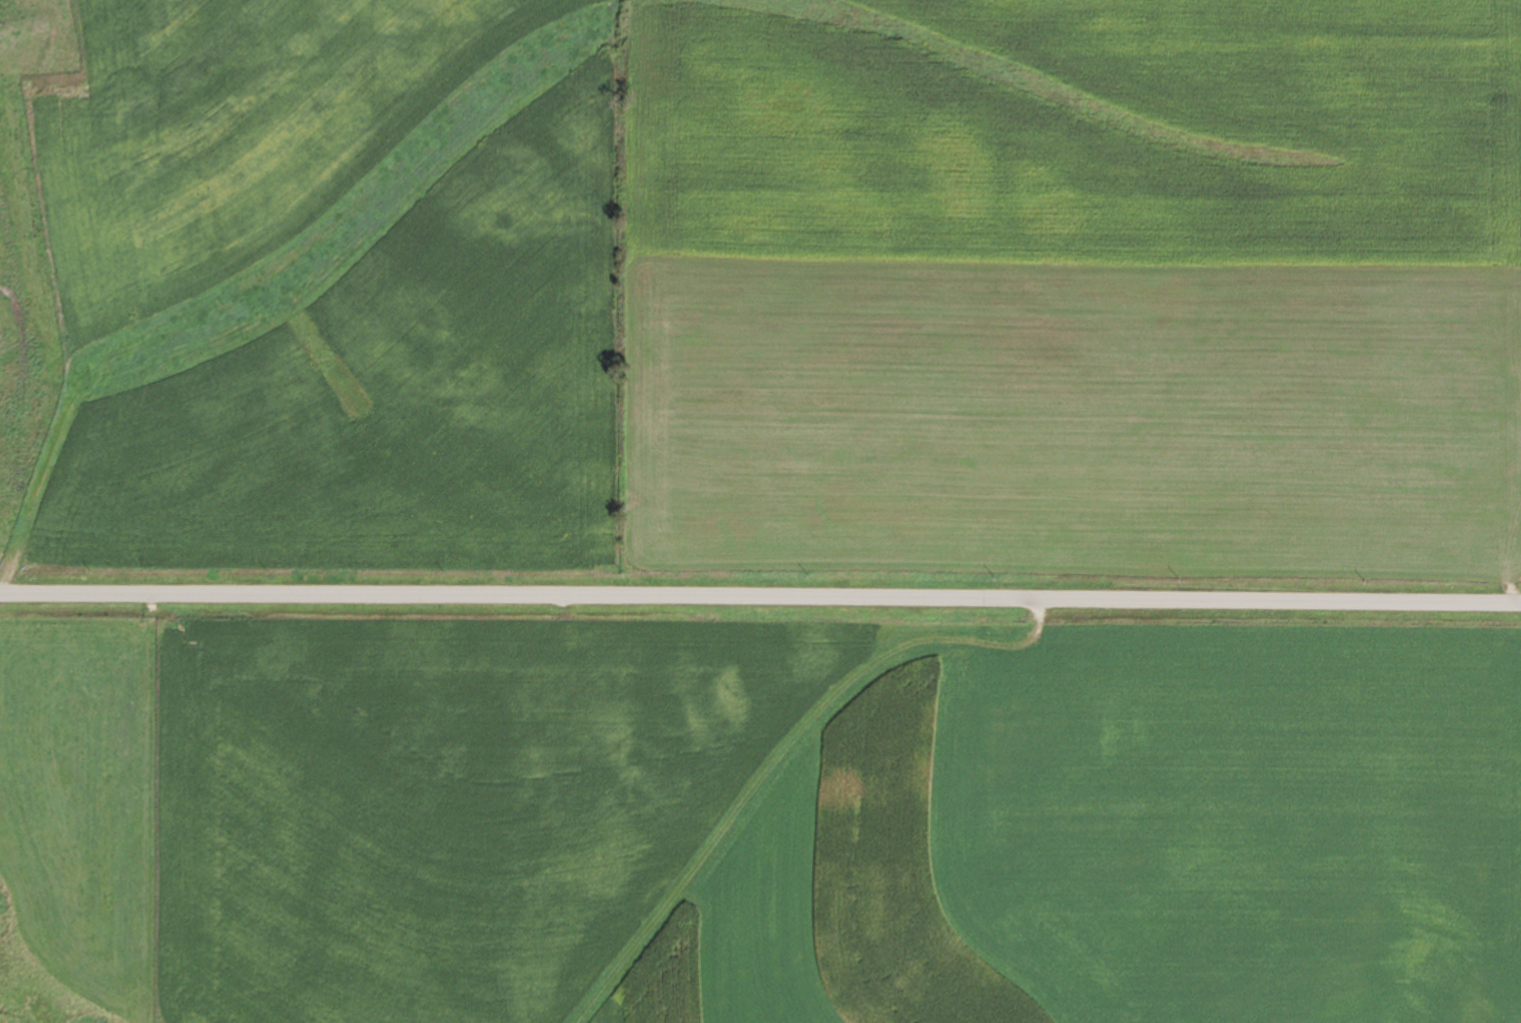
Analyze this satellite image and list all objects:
road: (760, 598)

